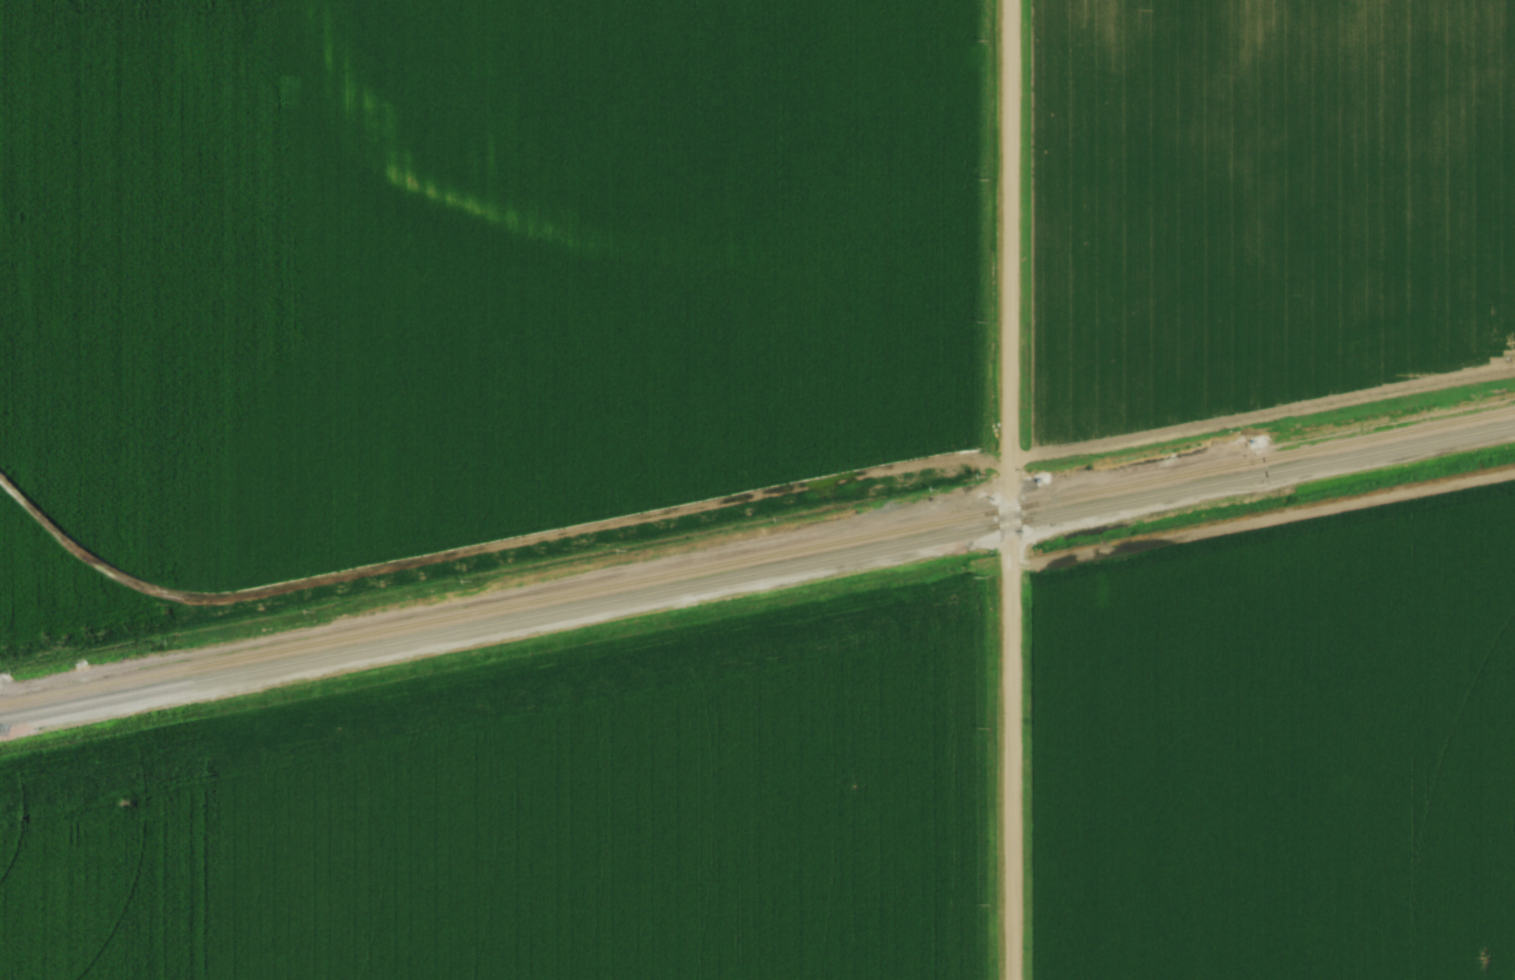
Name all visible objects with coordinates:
crop: (1258, 204)
crop: (471, 265)
road: (1267, 415)
road: (1017, 490)
railway: (757, 552)
railway: (757, 570)
crop: (50, 592)

